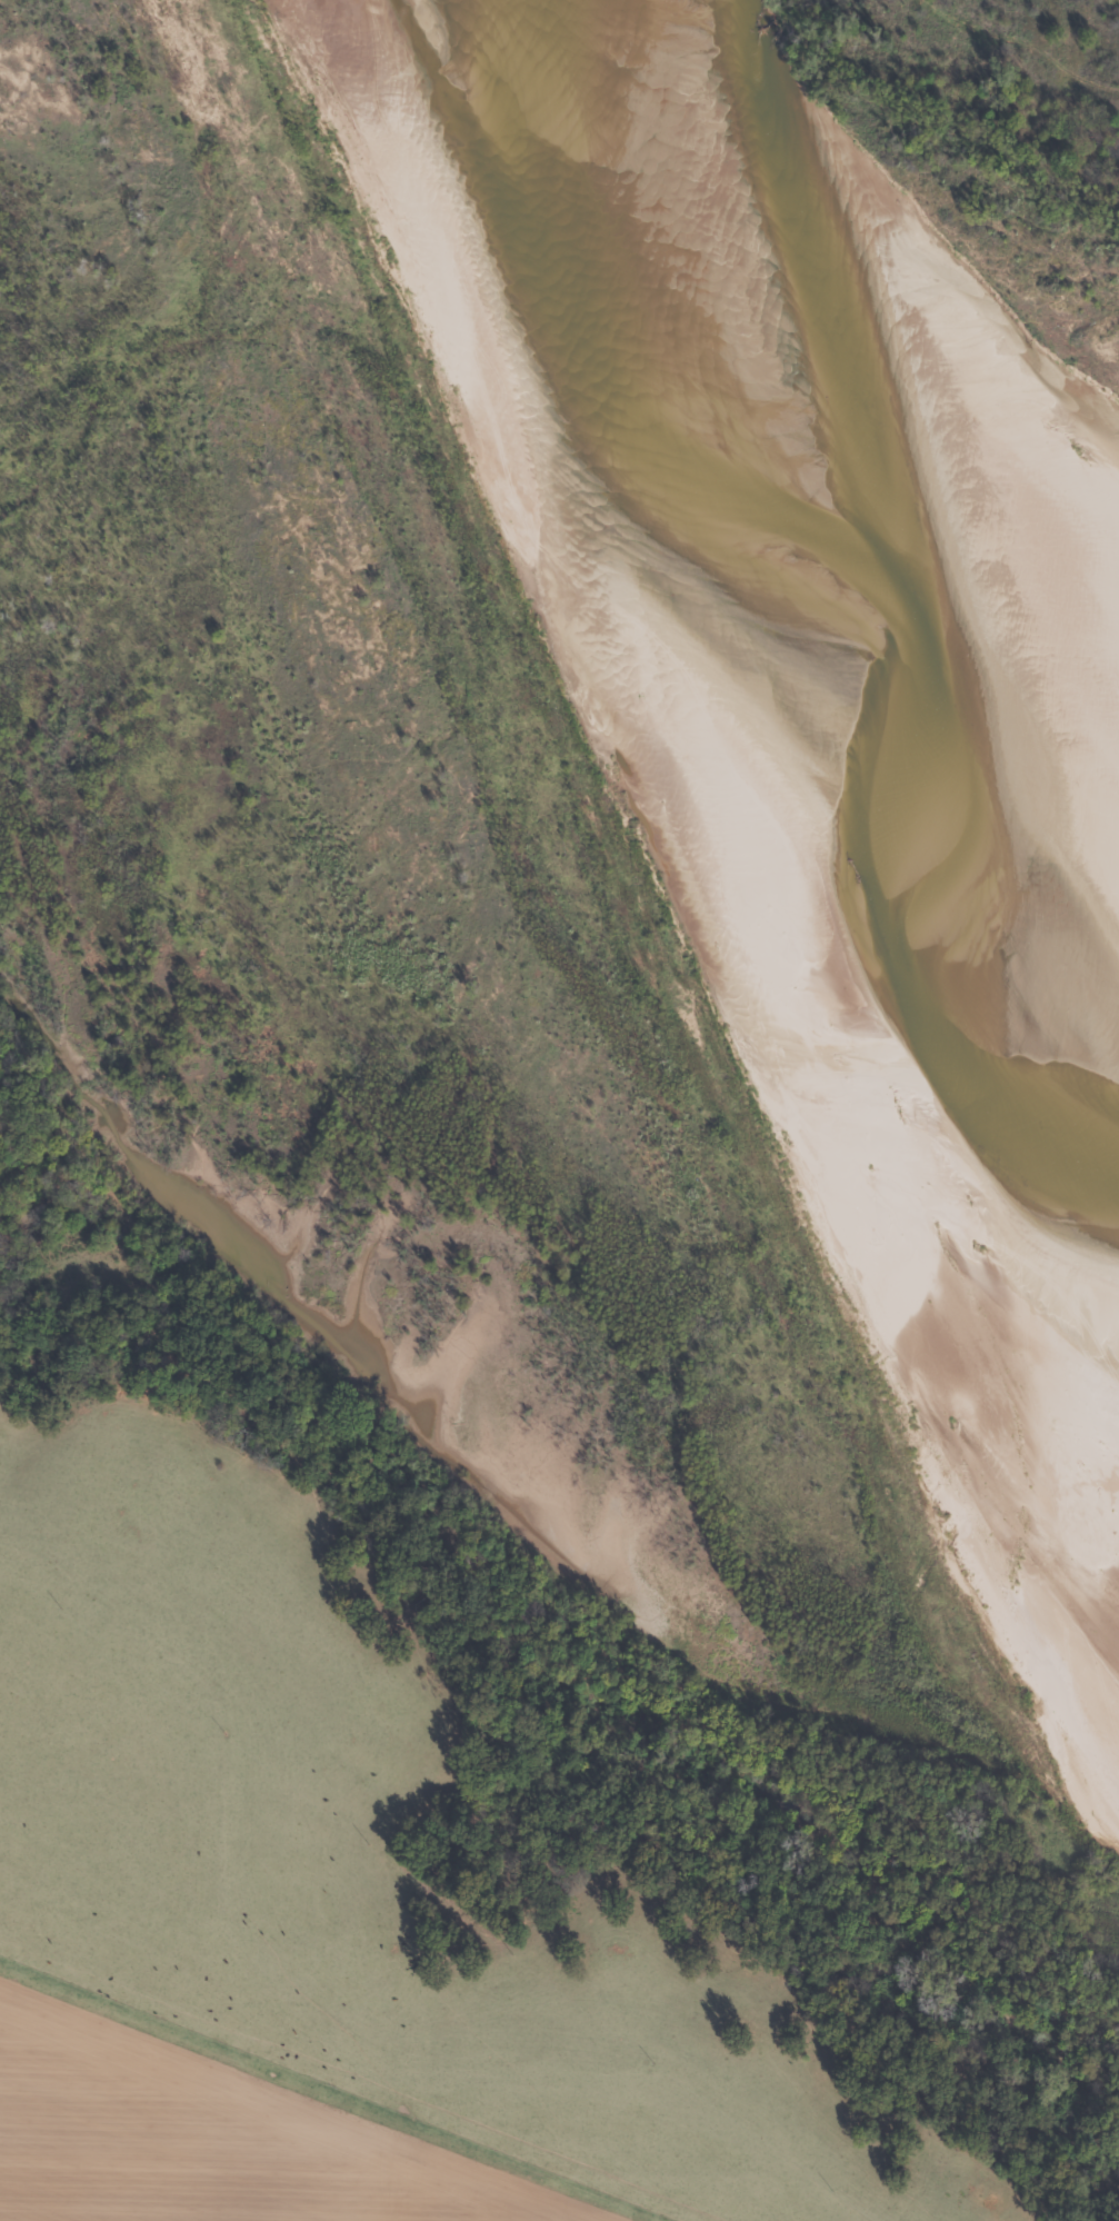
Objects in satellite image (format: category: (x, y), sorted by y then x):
river: (855, 665)

